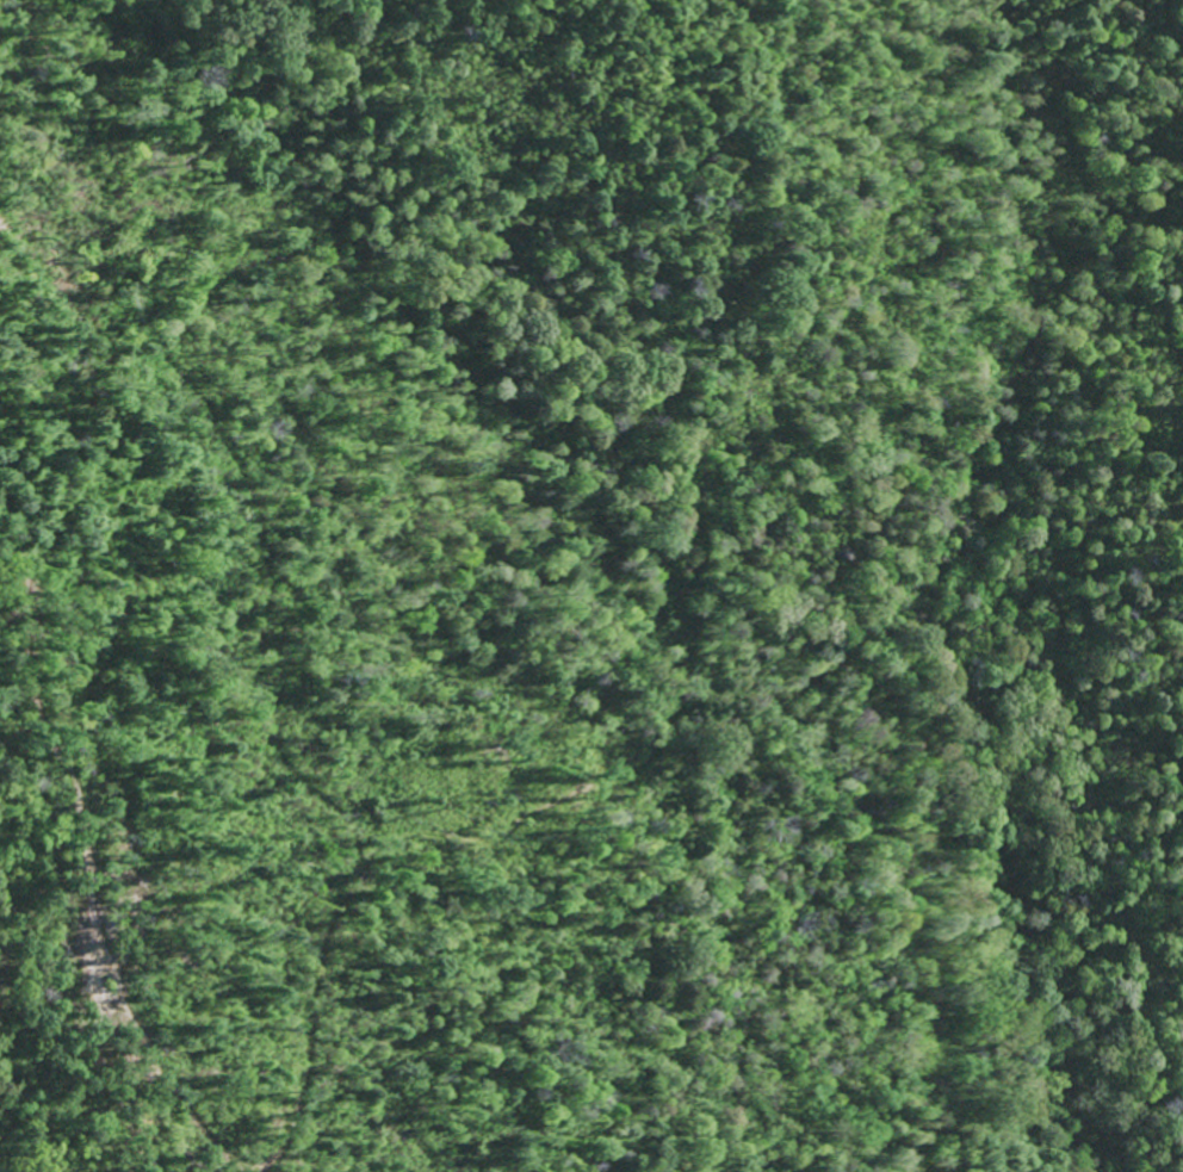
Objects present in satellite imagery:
road: (61, 923)

